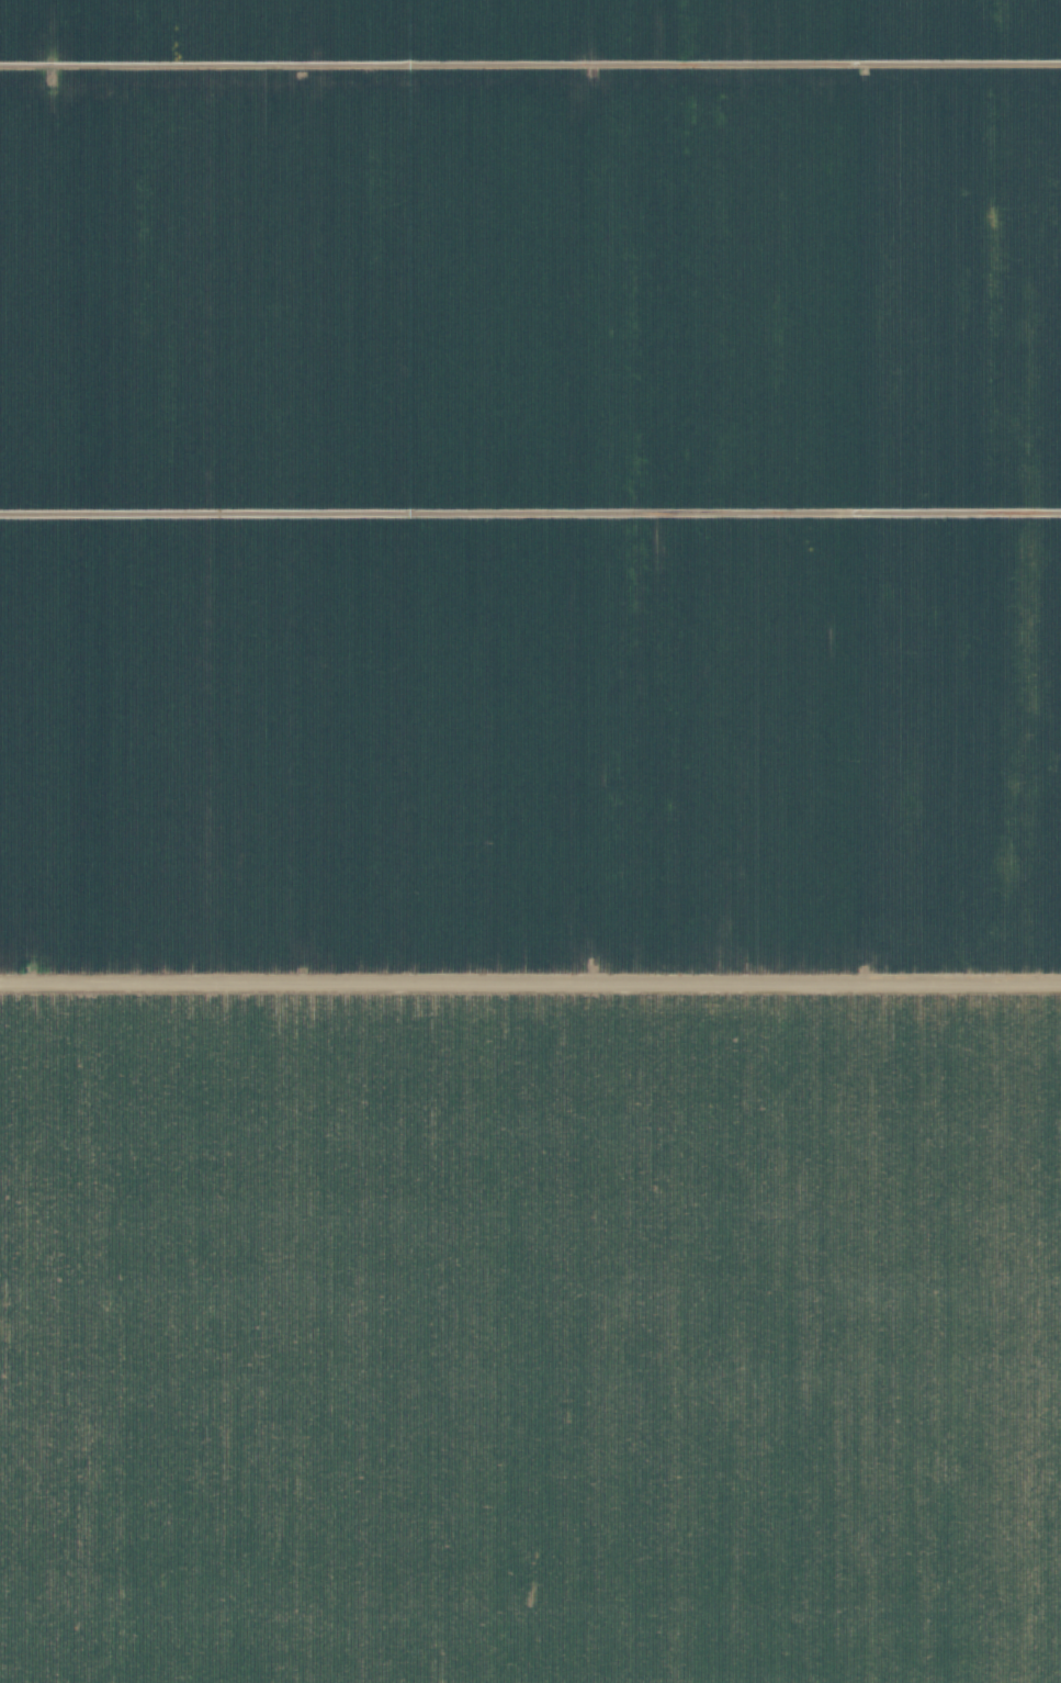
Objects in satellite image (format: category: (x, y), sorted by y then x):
crop: (530, 841)

